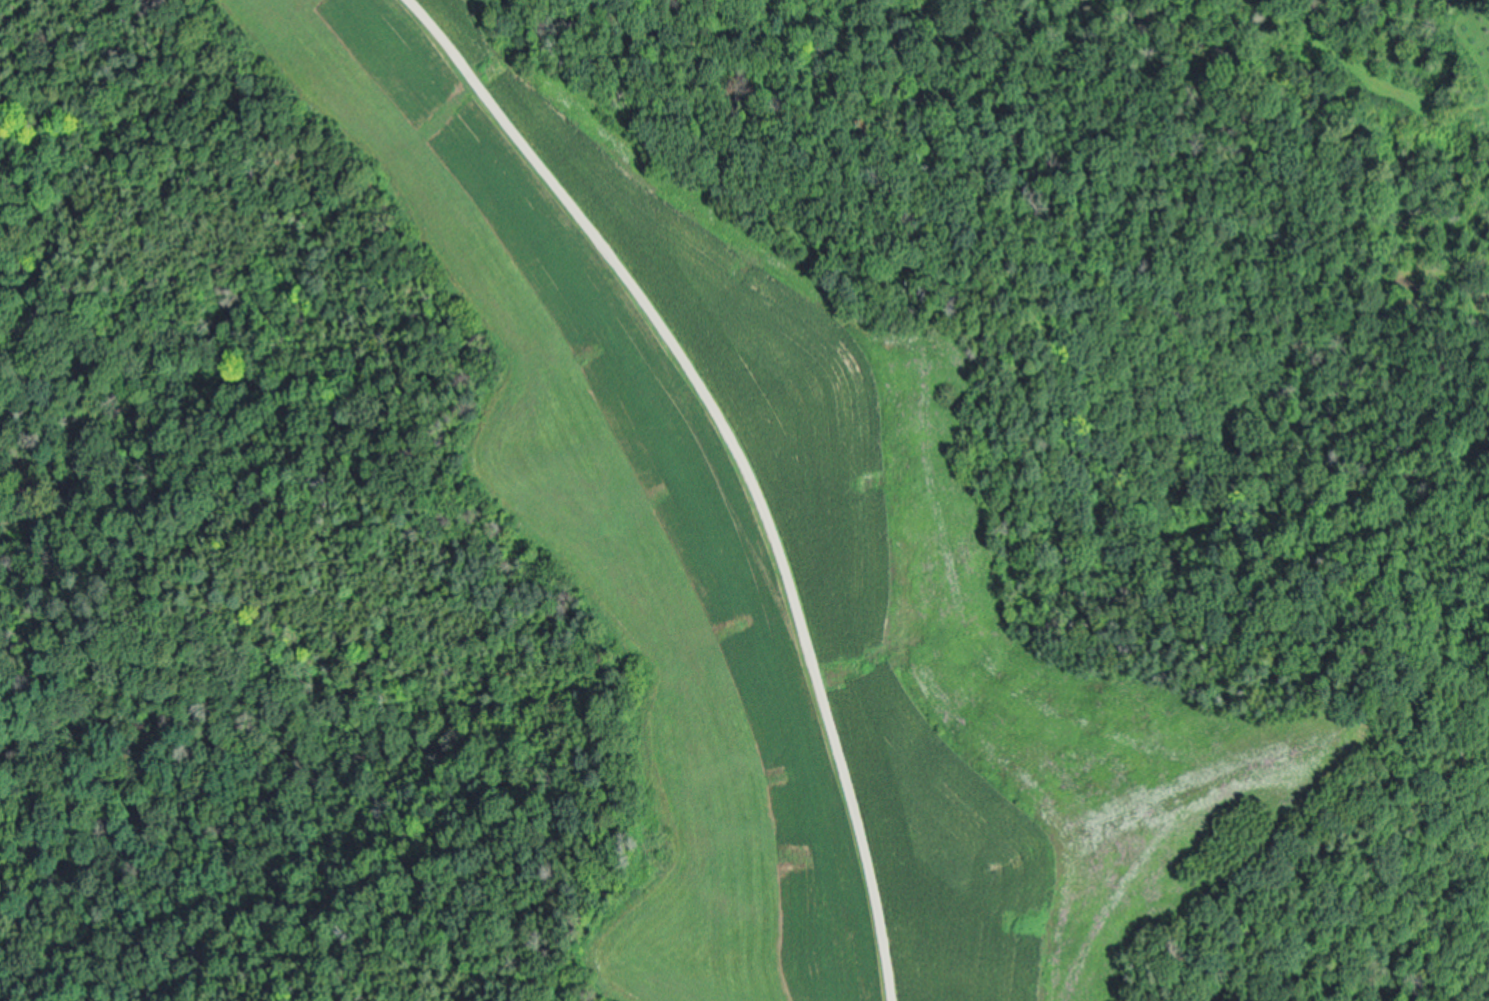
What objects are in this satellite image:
road: (741, 456)

